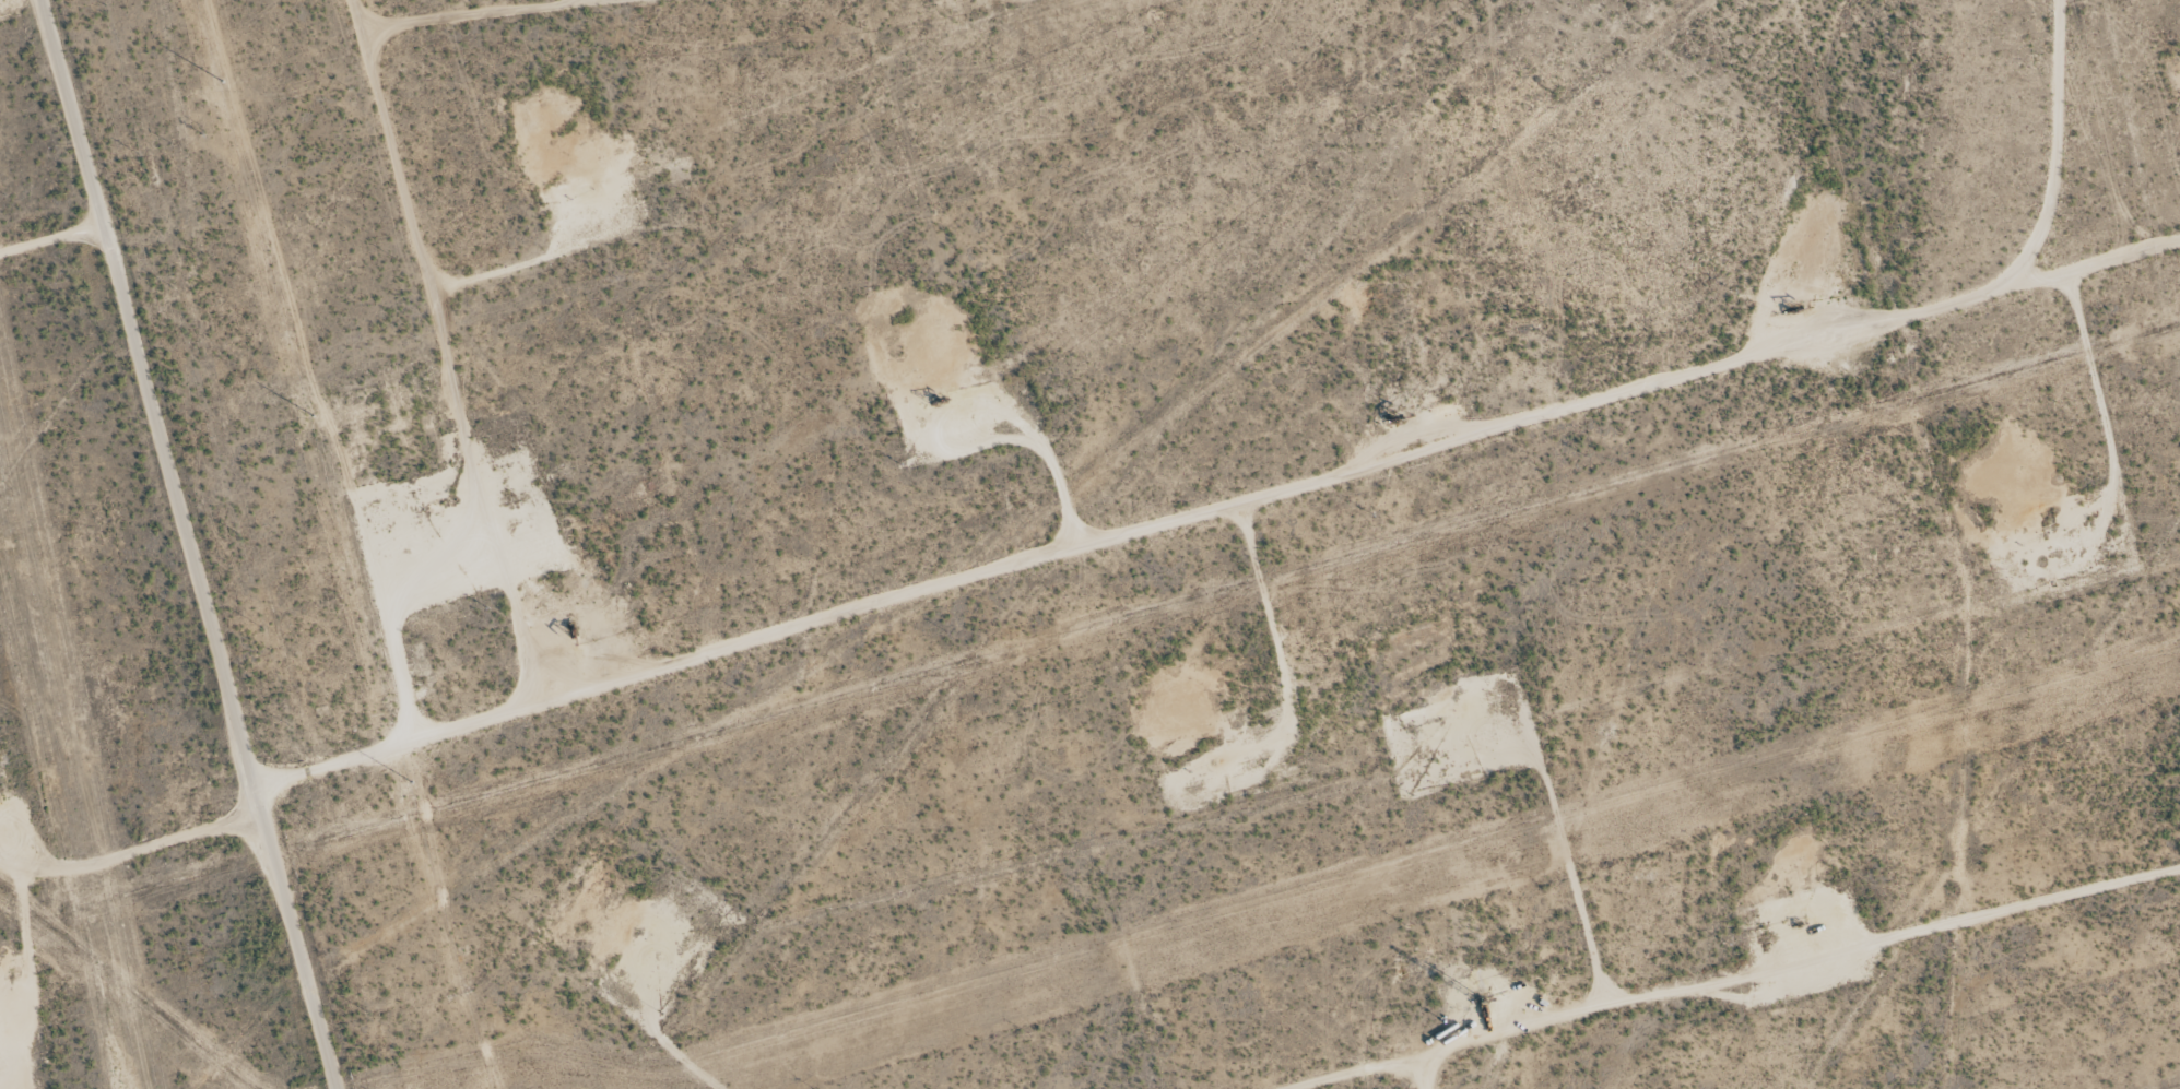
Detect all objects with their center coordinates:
road: (762, 186)
power tower: (285, 335)
road: (188, 544)
power tower: (387, 706)

